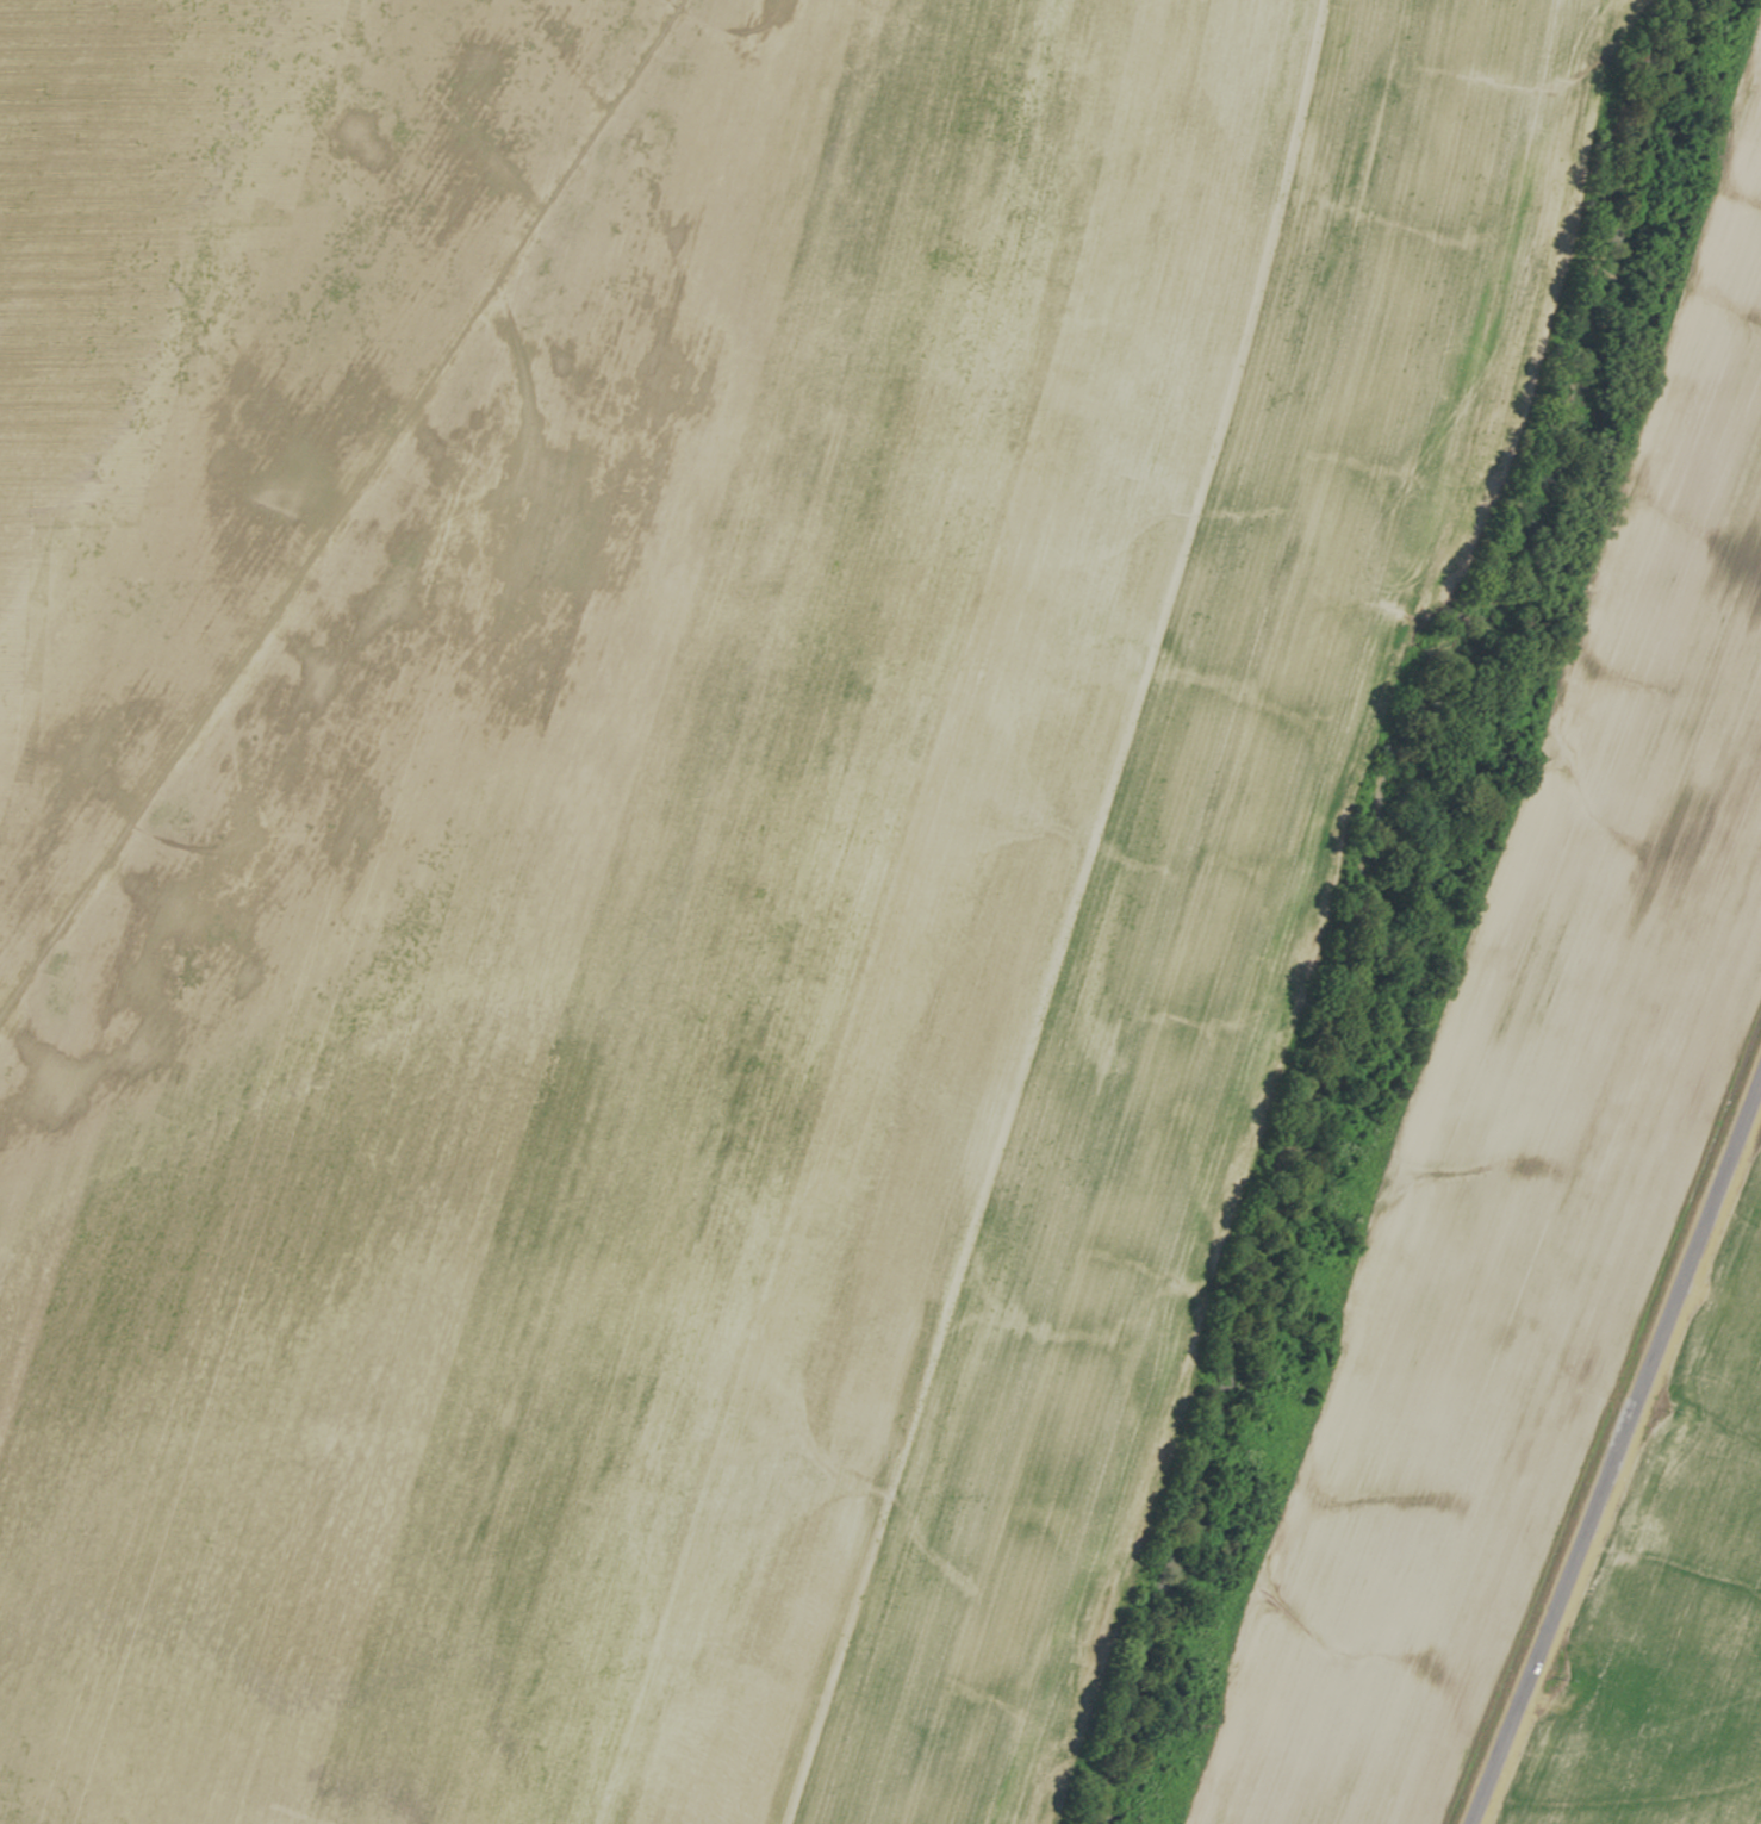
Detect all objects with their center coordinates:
road: (1617, 1451)

